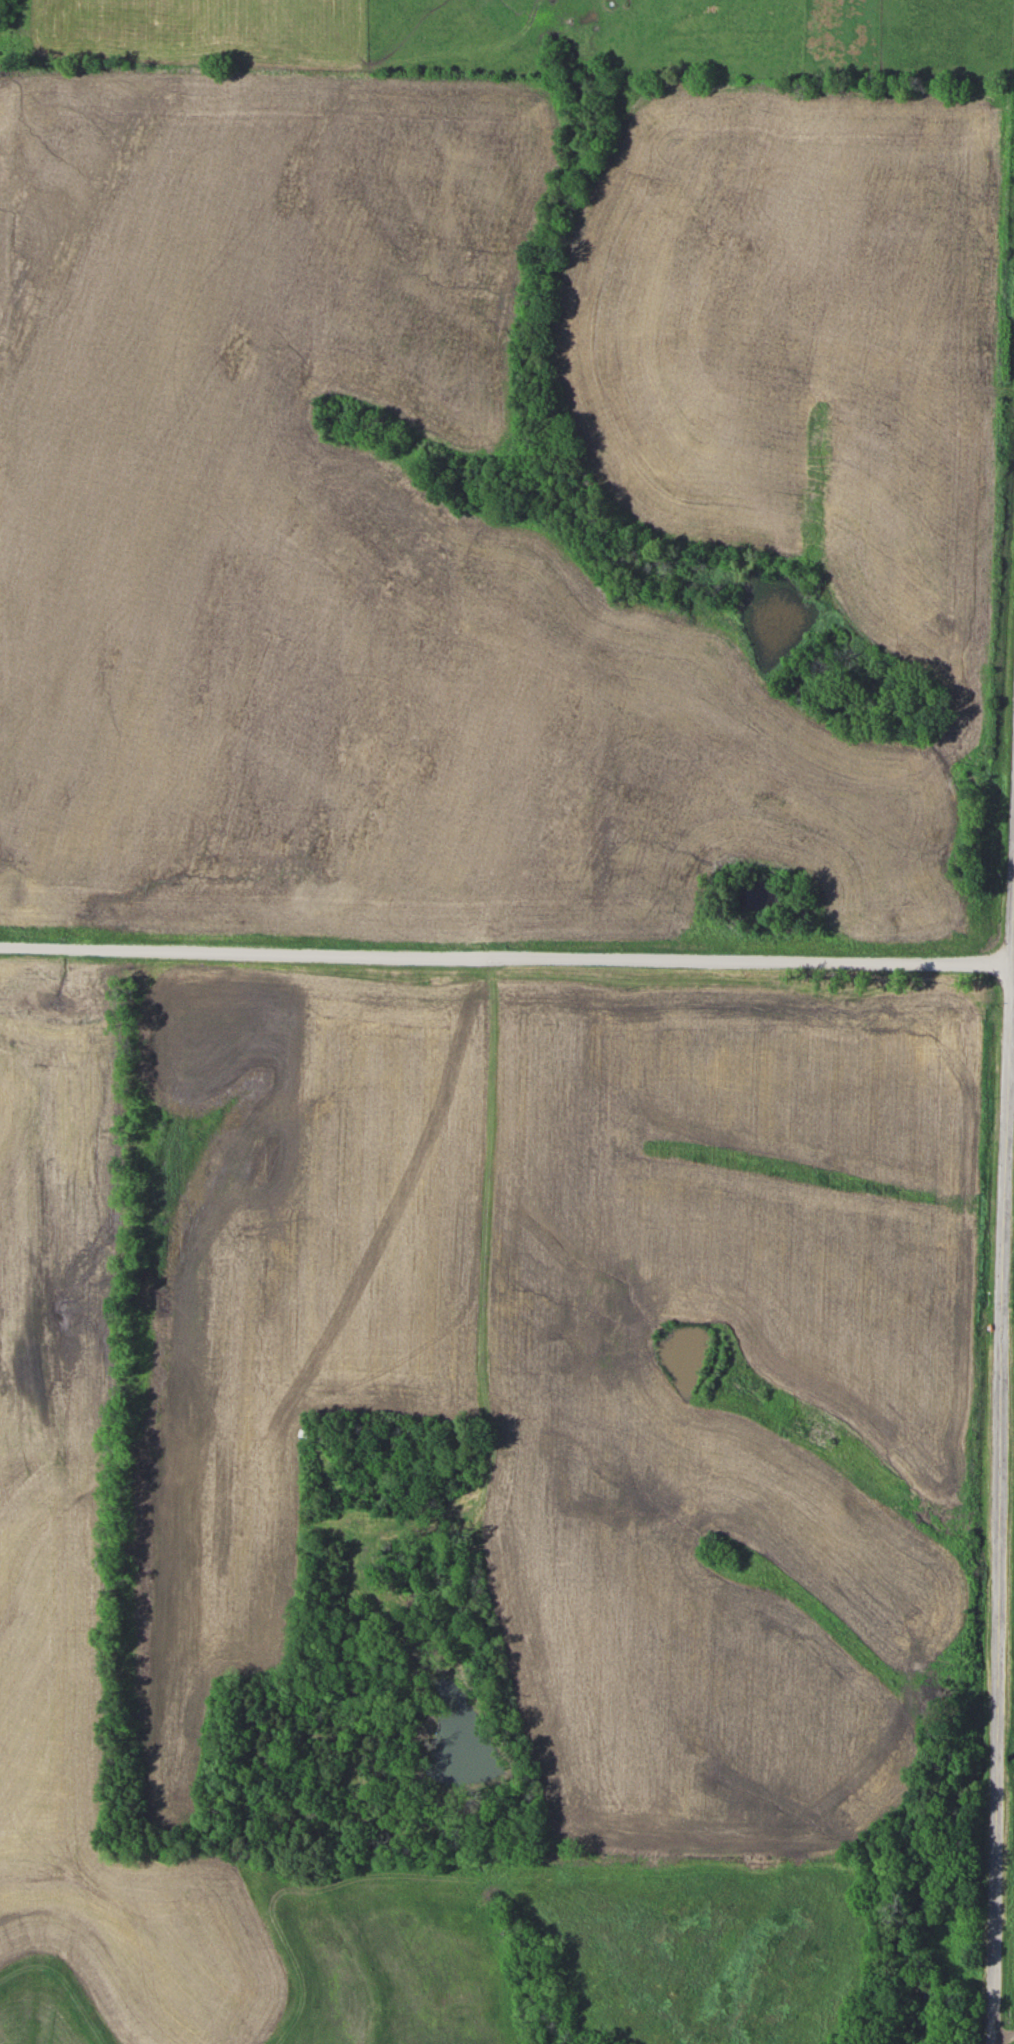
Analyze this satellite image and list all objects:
road: (507, 970)
road: (1006, 1730)

